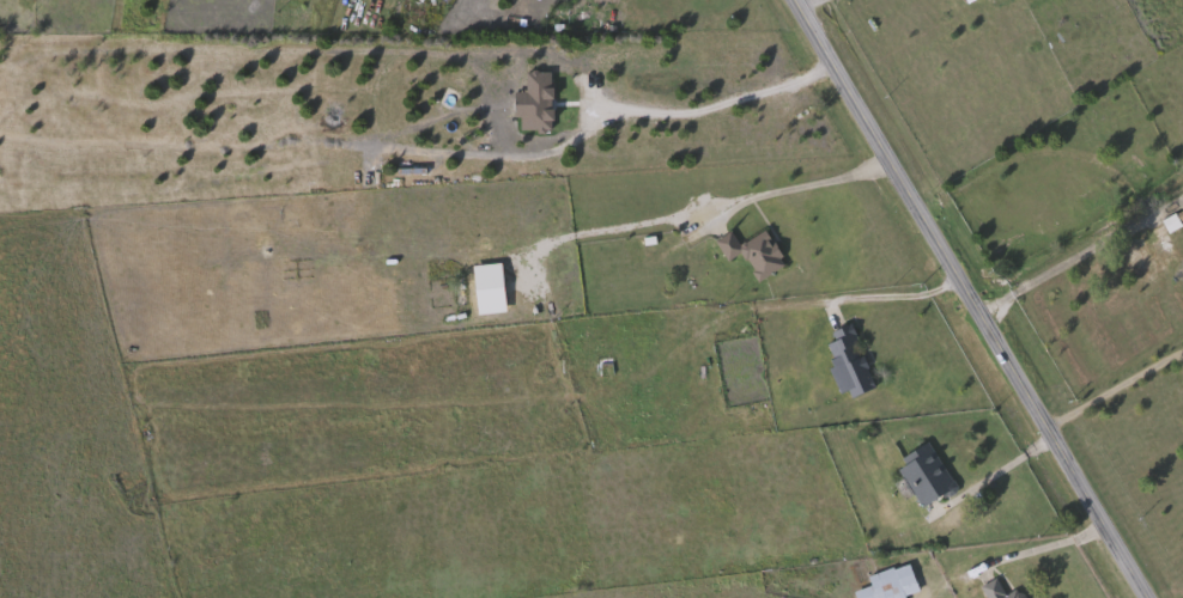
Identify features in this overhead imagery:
building: (582, 5)
road: (807, 6)
road: (698, 110)
road: (794, 187)
road: (915, 221)
building: (756, 254)
road: (1078, 261)
building: (1157, 262)
road: (888, 294)
building: (851, 364)
road: (1111, 390)
road: (997, 471)
building: (928, 476)
road: (1093, 519)
road: (1032, 550)
building: (893, 584)
building: (1000, 591)

